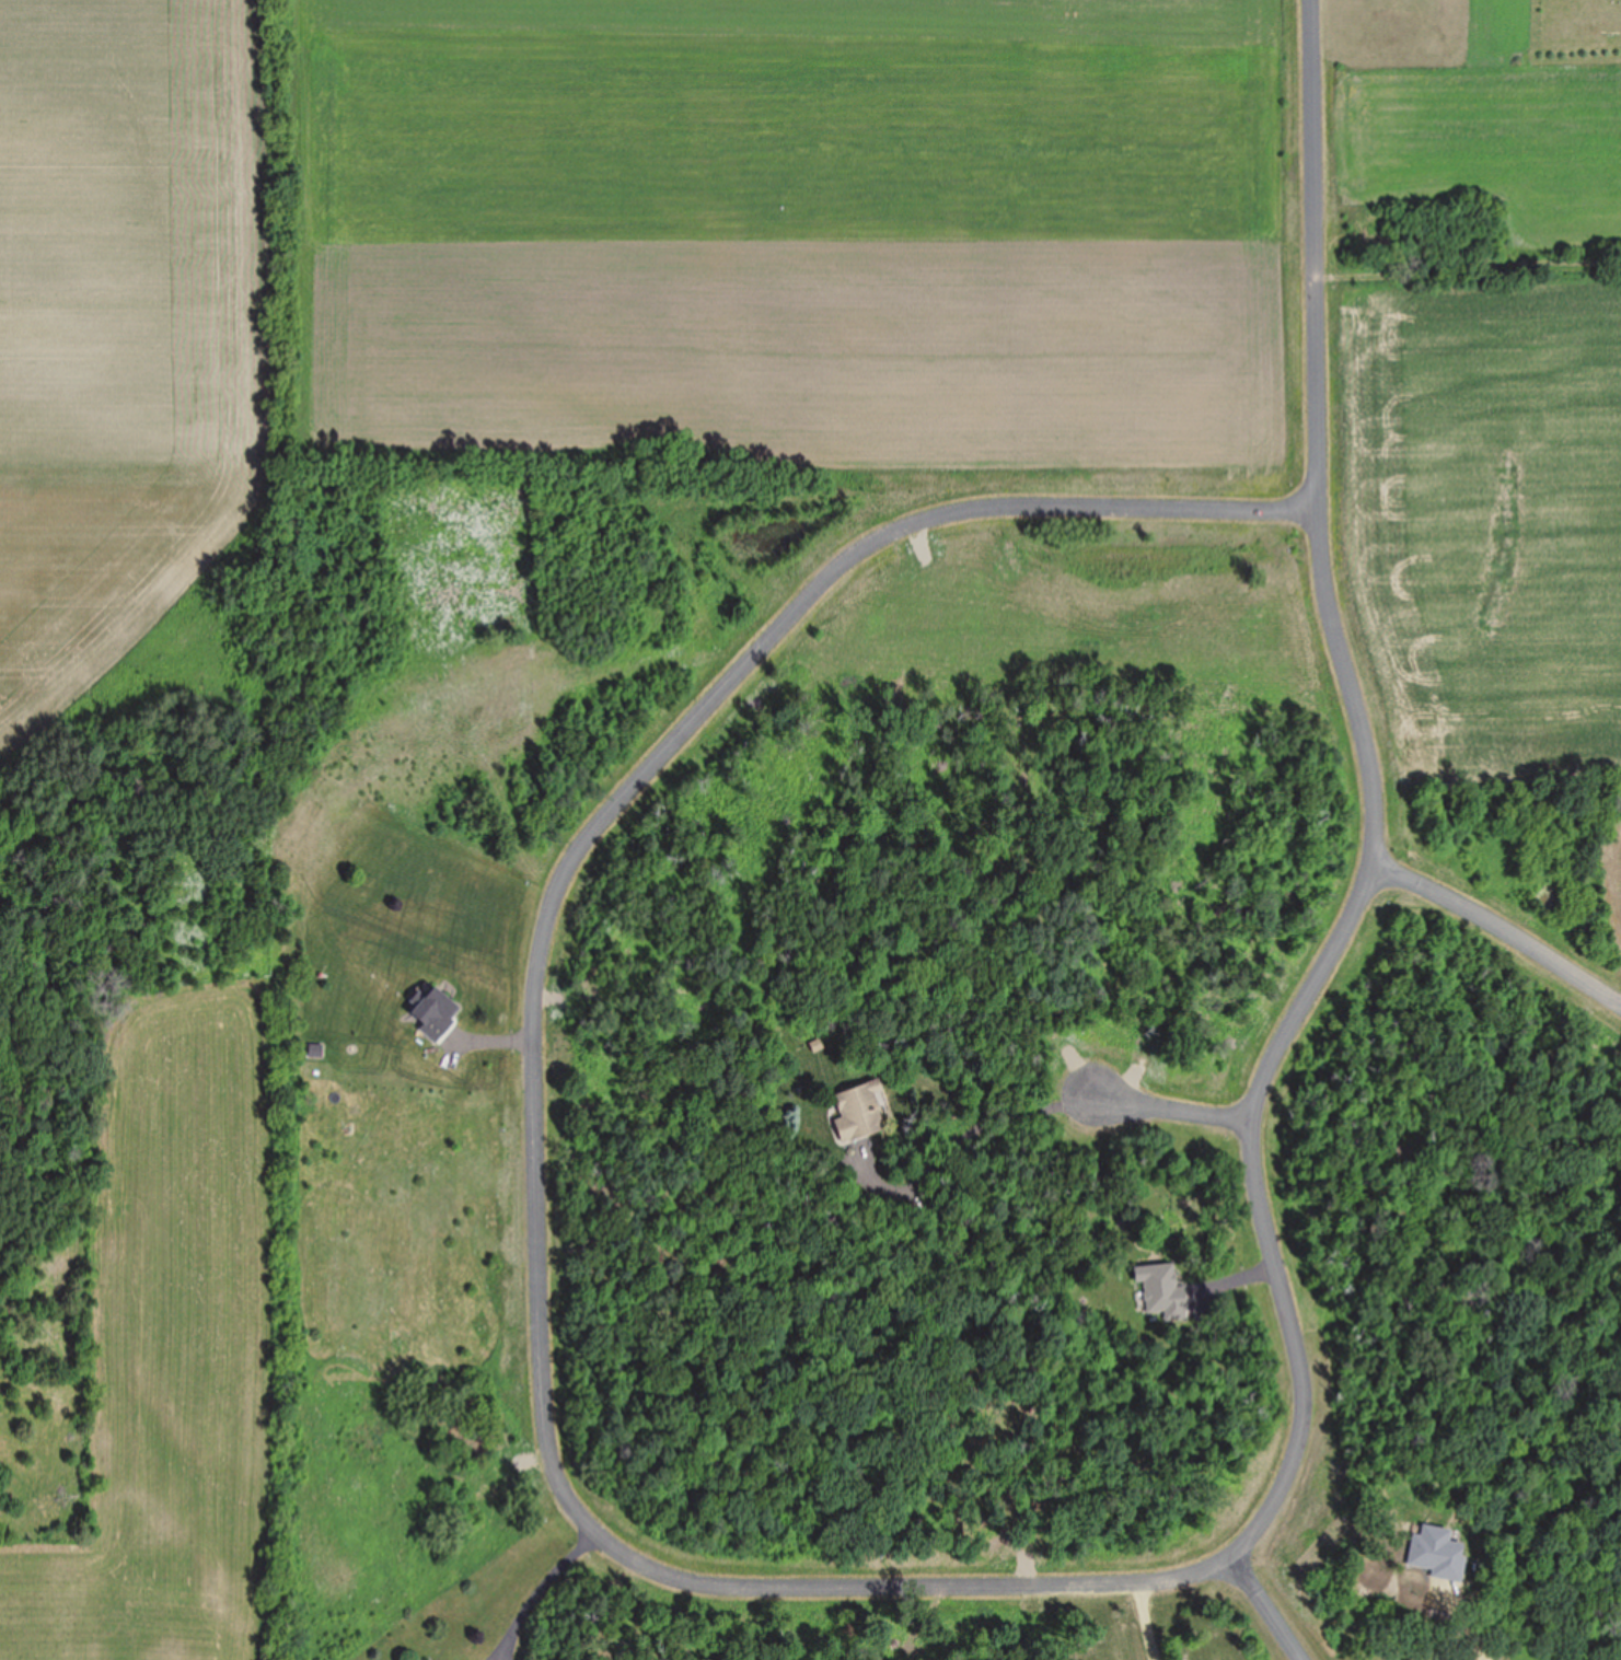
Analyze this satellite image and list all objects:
road: (1375, 837)
road: (1502, 930)
building: (439, 1011)
road: (535, 1042)
crop: (139, 1089)
road: (1172, 1106)
building: (855, 1108)
building: (1159, 1289)
road: (1273, 1607)

